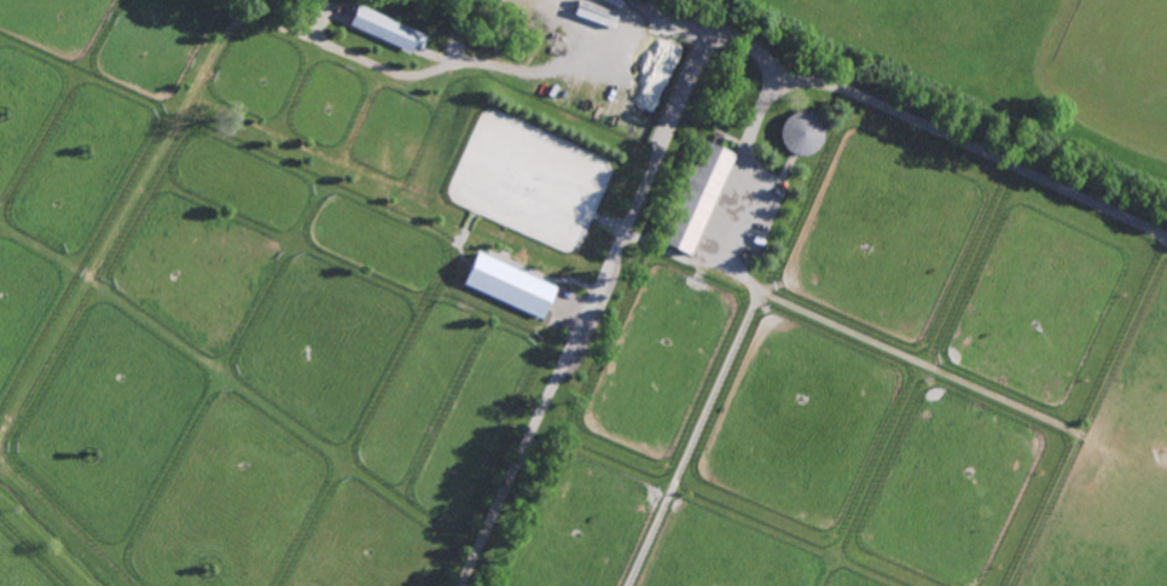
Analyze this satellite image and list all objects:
road: (594, 18)
building: (385, 29)
road: (497, 64)
park: (1110, 68)
park: (1005, 69)
road: (684, 86)
building: (801, 132)
building: (507, 284)

